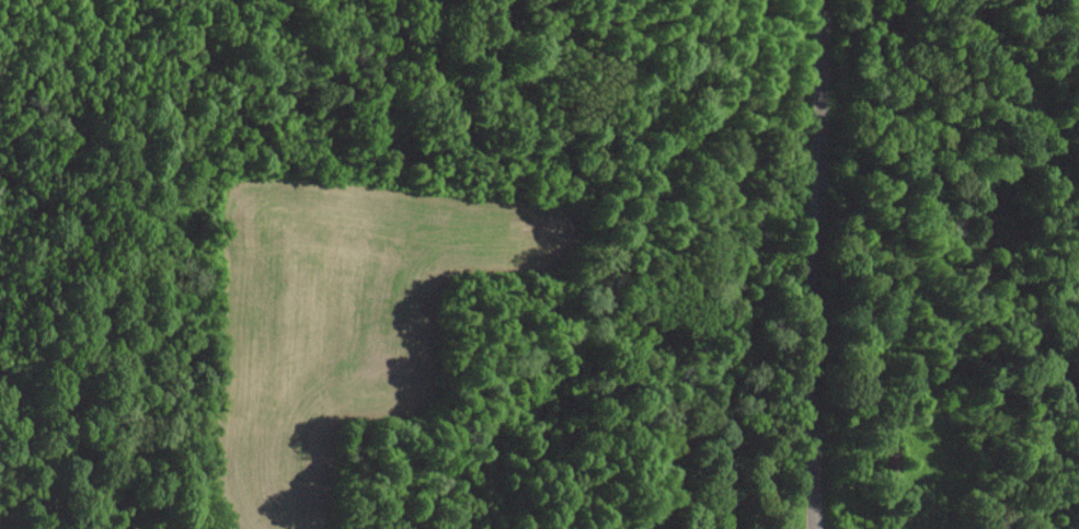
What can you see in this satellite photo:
road: (820, 264)

